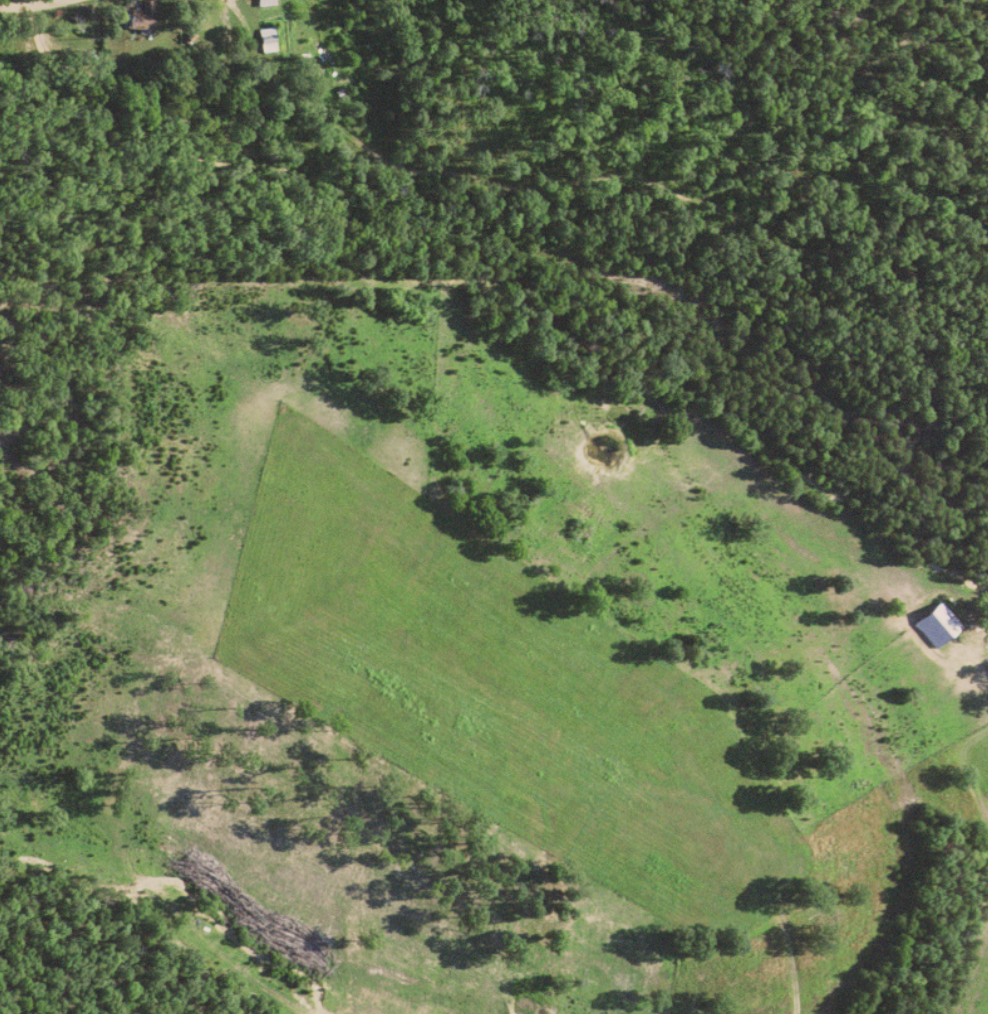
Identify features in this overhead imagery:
road: (40, 6)
building: (142, 16)
building: (935, 624)

